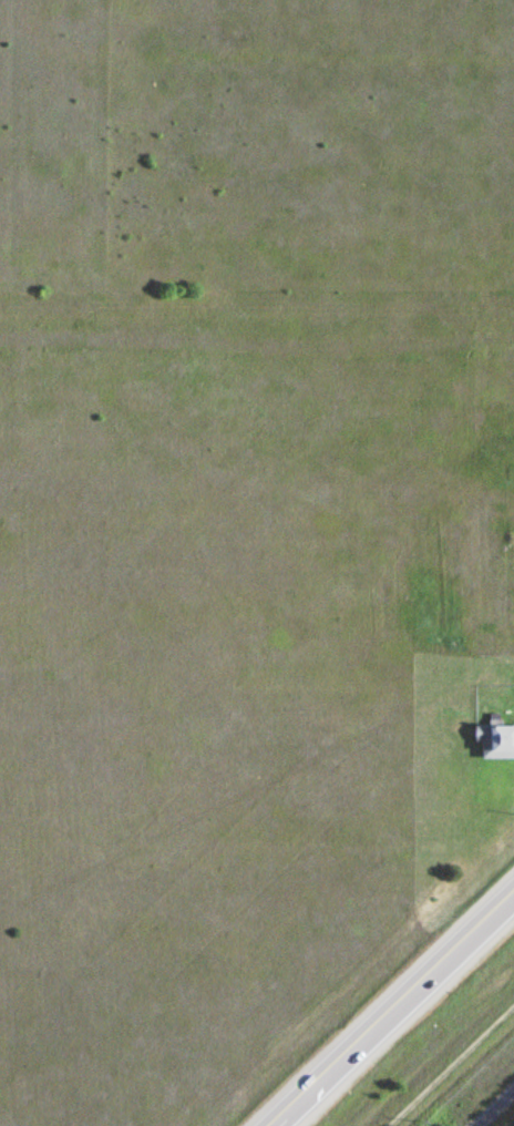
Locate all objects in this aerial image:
building: (494, 739)
road: (389, 1006)
road: (449, 1063)
railway: (493, 1106)

